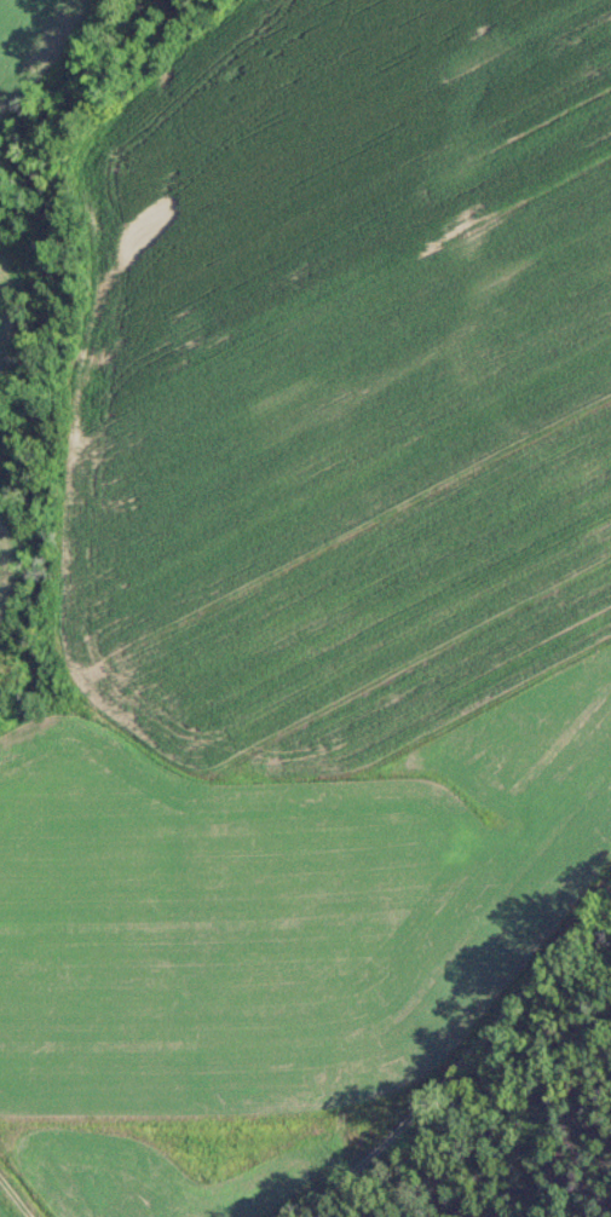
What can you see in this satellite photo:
crop: (301, 133)
crop: (316, 696)

